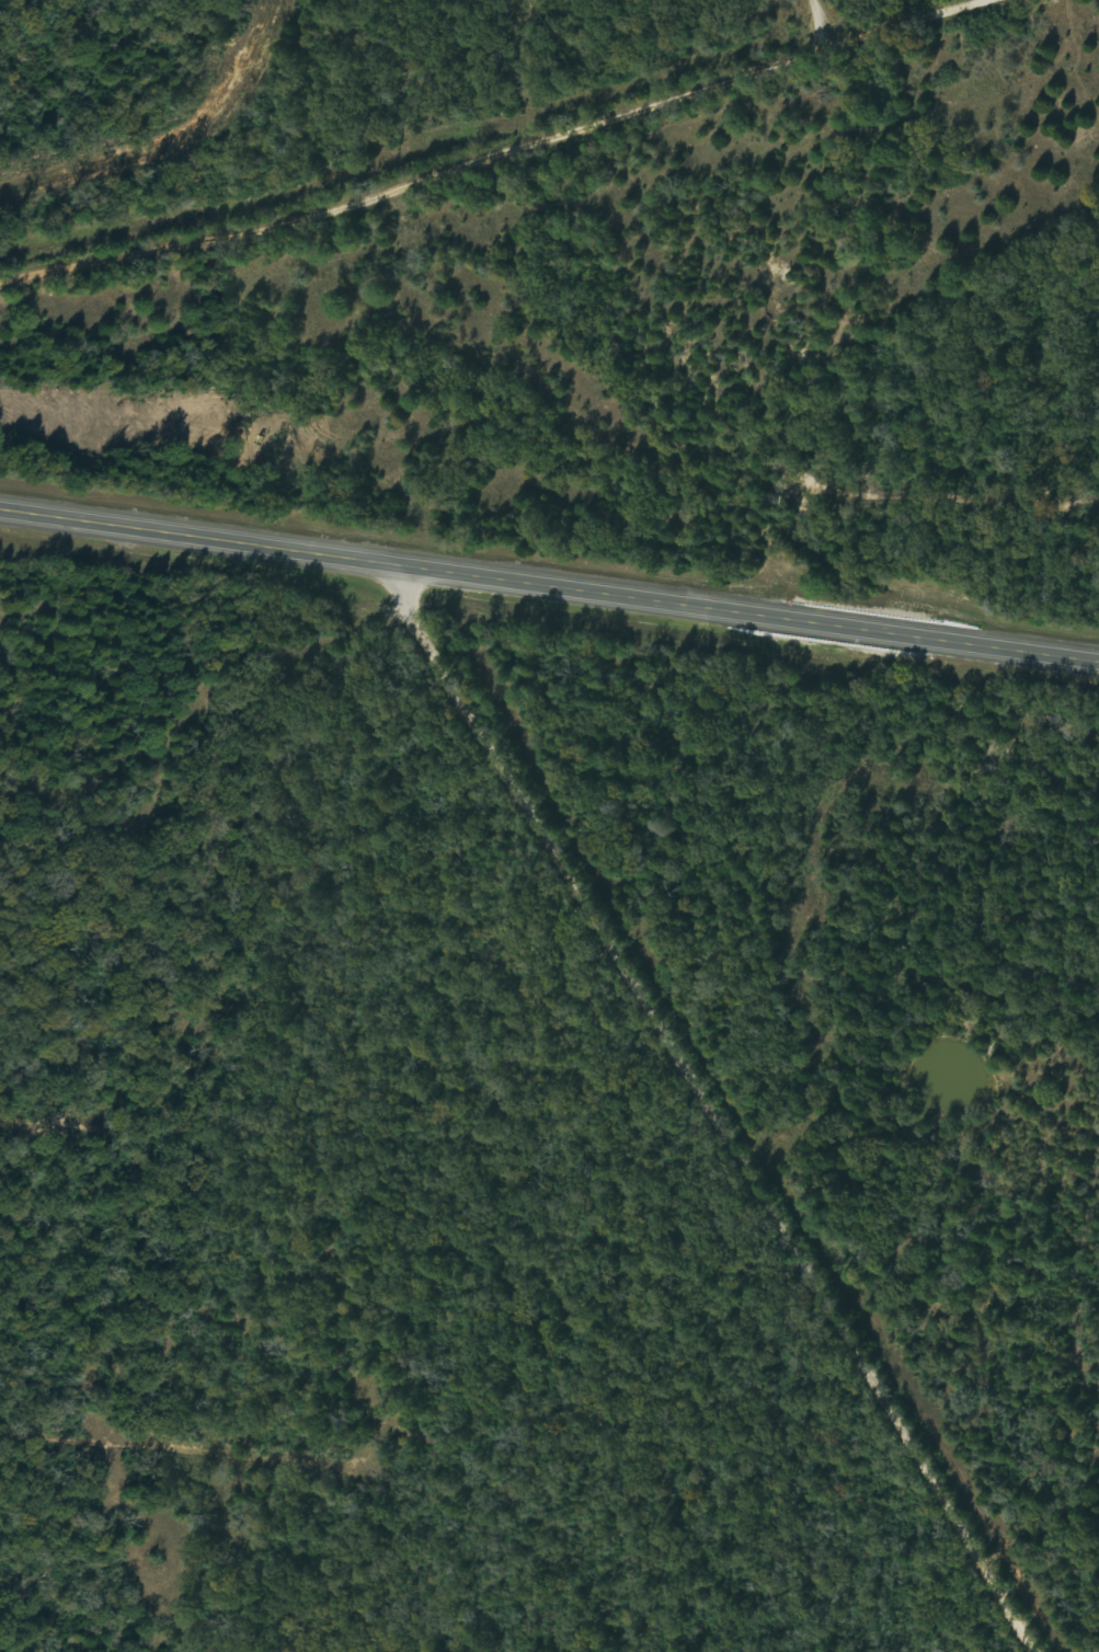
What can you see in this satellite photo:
road: (543, 162)
road: (547, 595)
road: (722, 1115)

